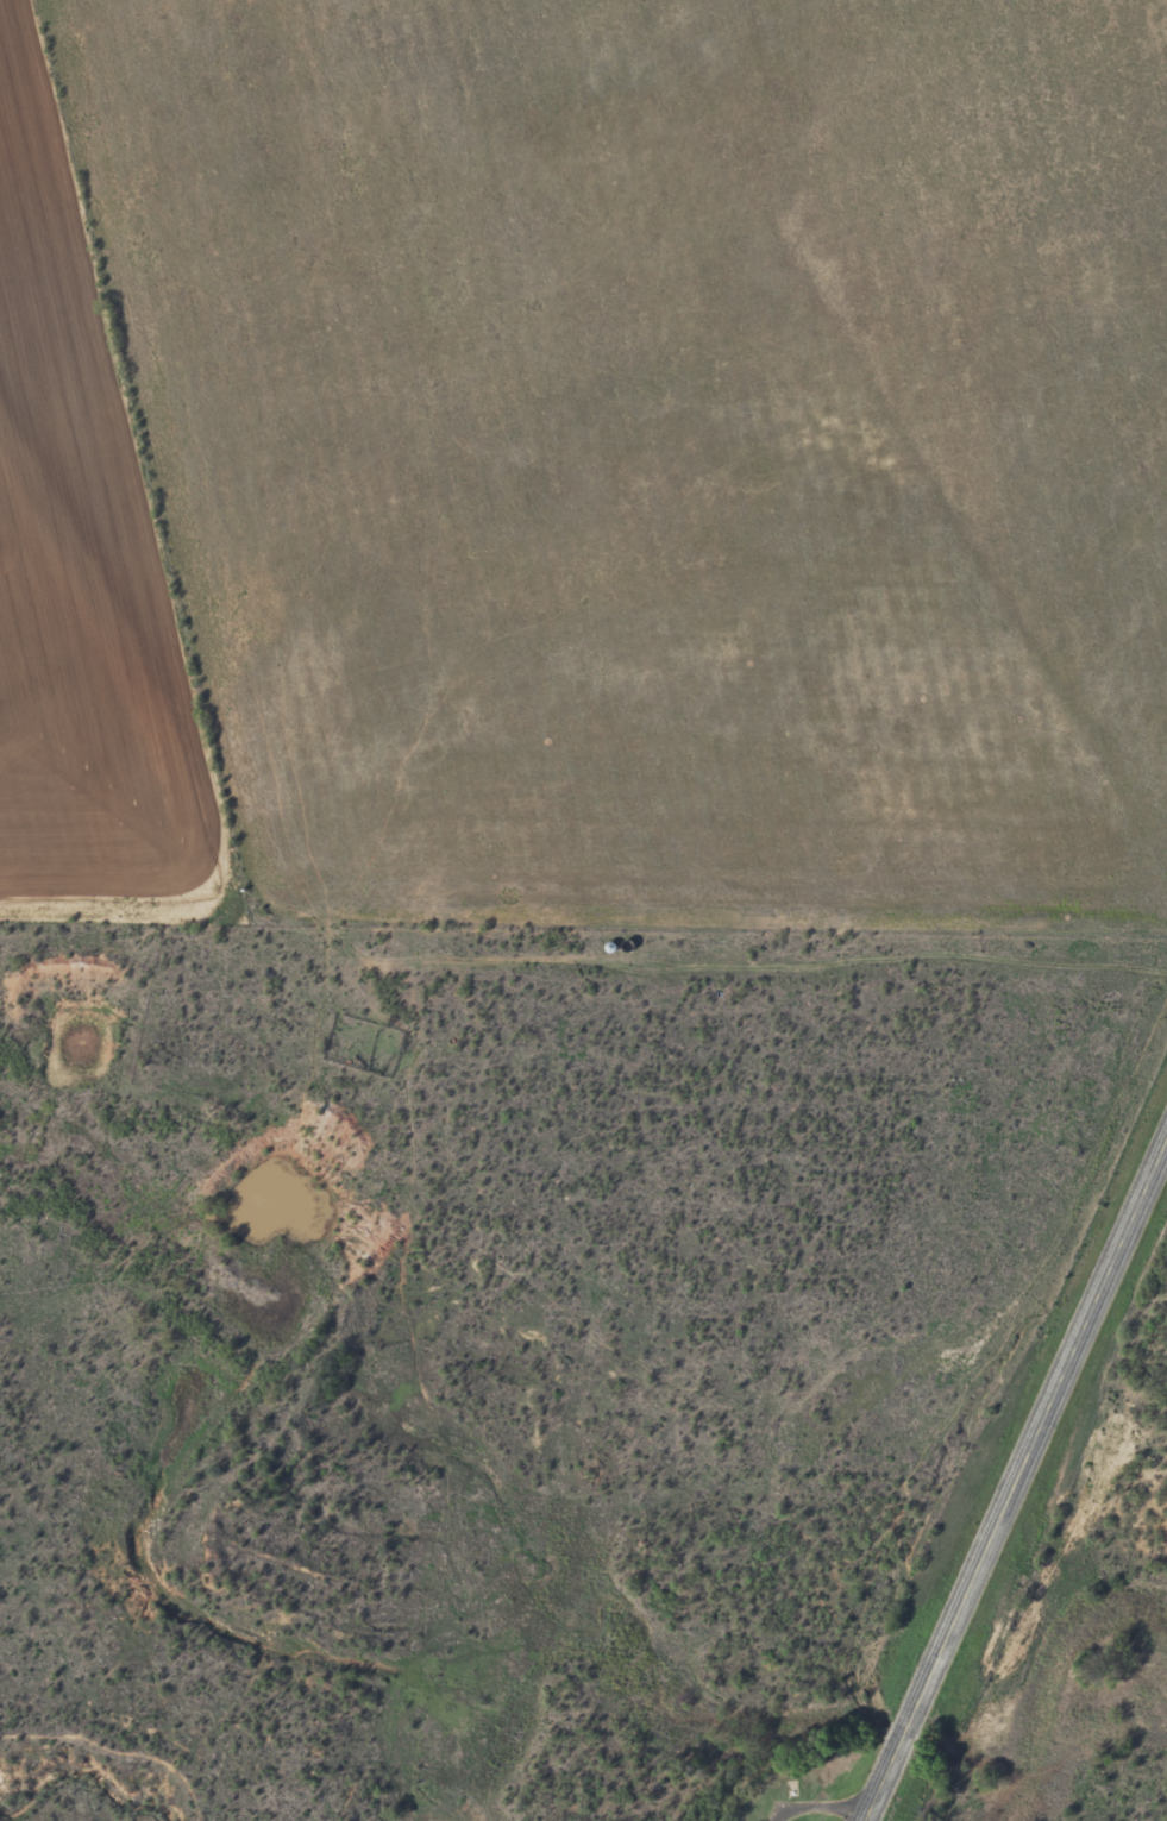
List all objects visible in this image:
road: (1019, 1489)

